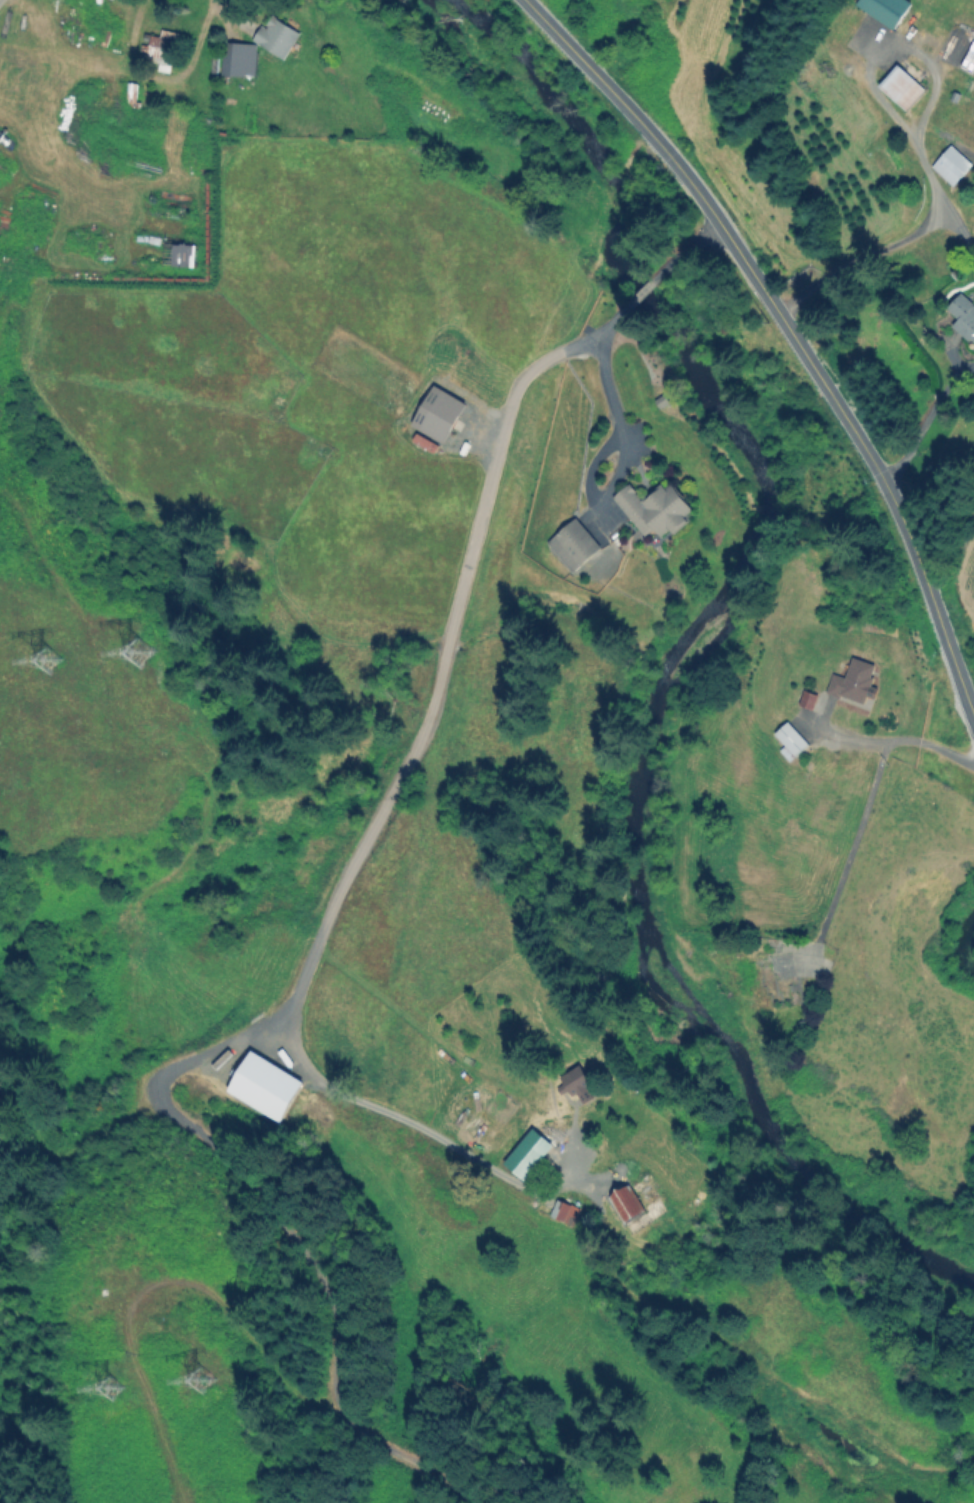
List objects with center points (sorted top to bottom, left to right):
building: (884, 9)
building: (275, 36)
building: (161, 45)
building: (237, 59)
road: (162, 78)
road: (603, 82)
building: (900, 86)
building: (950, 164)
road: (922, 221)
road: (955, 229)
road: (684, 245)
building: (182, 254)
road: (646, 284)
building: (963, 315)
road: (601, 365)
building: (437, 413)
road: (929, 420)
road: (852, 428)
building: (424, 442)
building: (653, 508)
building: (583, 551)
power tower: (110, 641)
power tower: (24, 650)
road: (440, 672)
building: (851, 681)
building: (811, 700)
road: (844, 737)
building: (789, 740)
road: (869, 799)
building: (264, 1085)
building: (574, 1085)
road: (341, 1091)
building: (526, 1152)
building: (625, 1203)
building: (563, 1211)
power tower: (180, 1379)
power tower: (90, 1392)

